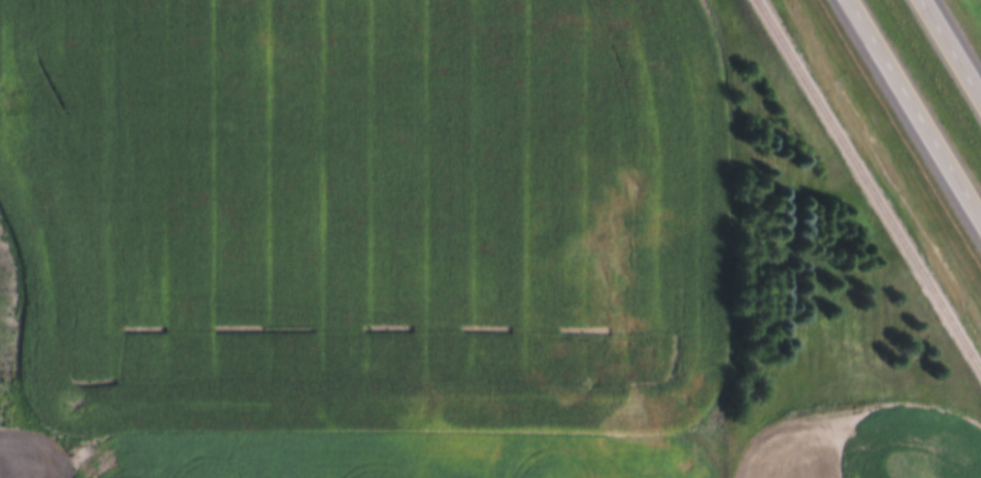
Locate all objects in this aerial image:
road: (951, 48)
road: (916, 107)
railway: (867, 186)
road: (721, 241)

